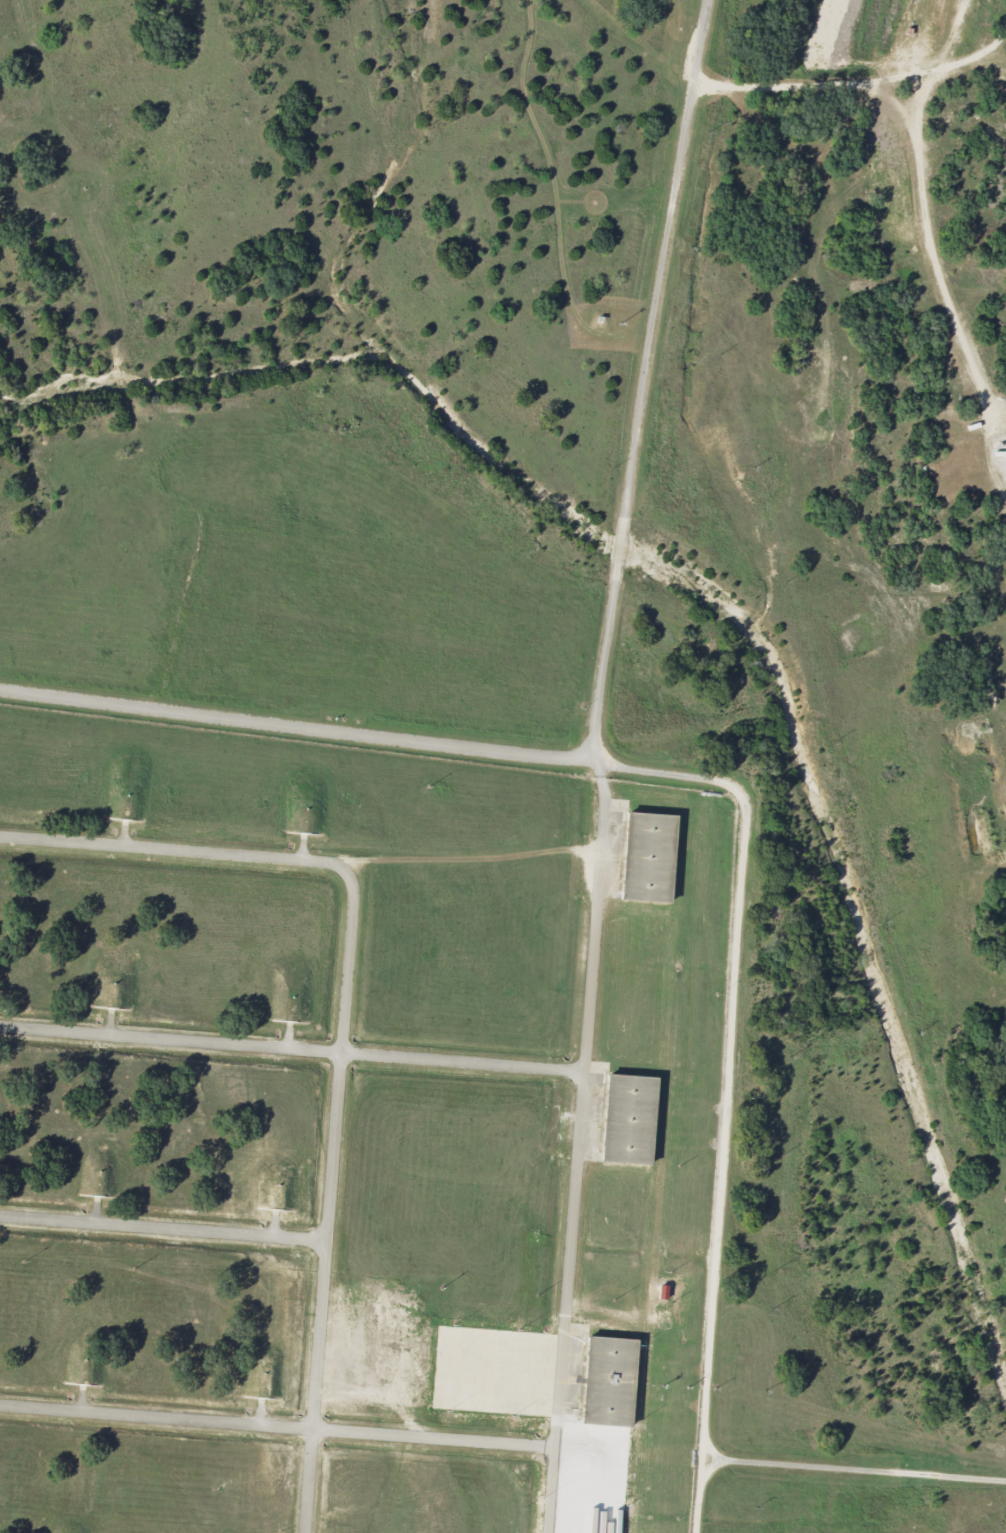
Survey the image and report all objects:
road: (921, 208)
road: (286, 724)
road: (587, 762)
road: (602, 763)
road: (172, 849)
building: (646, 856)
road: (294, 1049)
road: (727, 1088)
building: (627, 1118)
road: (331, 1199)
road: (164, 1227)
building: (608, 1381)
road: (277, 1425)
road: (855, 1472)

